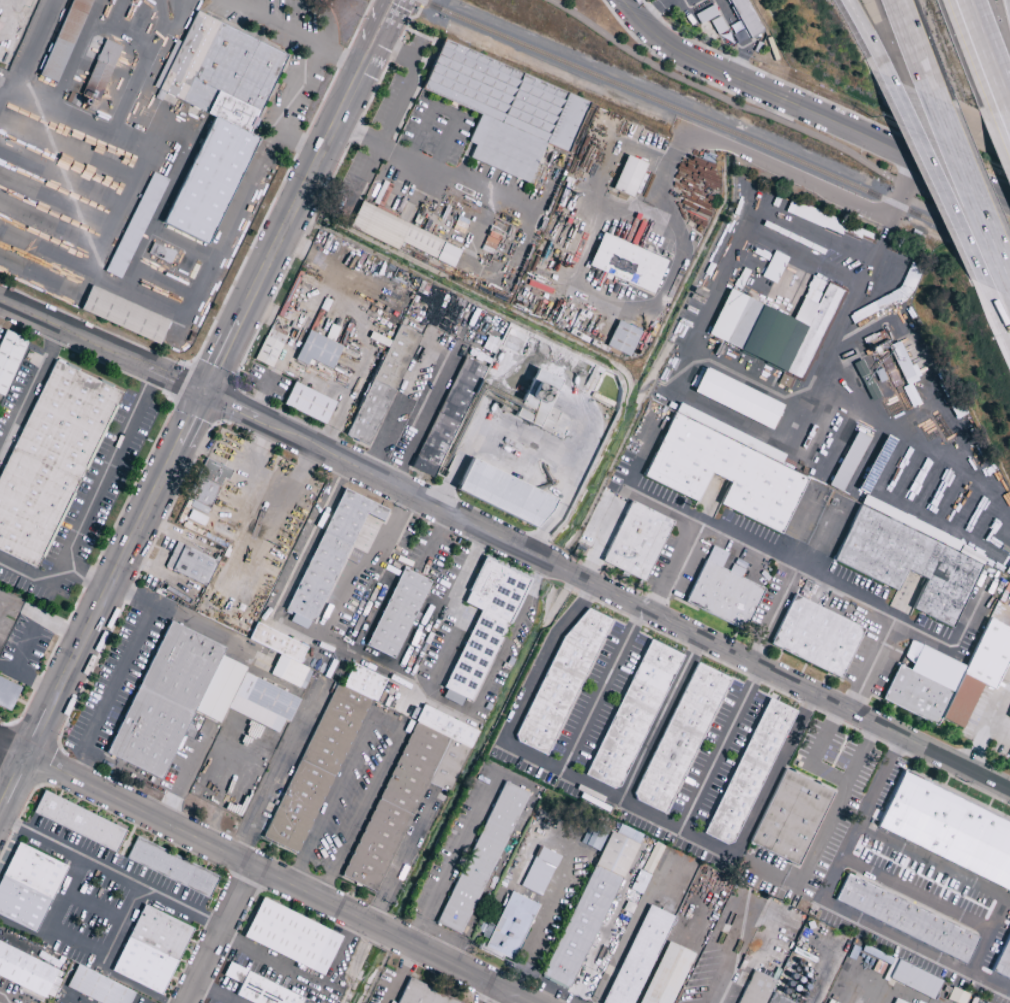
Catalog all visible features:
railway: (168, 9)
building: (744, 17)
building: (709, 19)
road: (862, 28)
road: (302, 35)
building: (64, 40)
road: (914, 48)
road: (338, 54)
road: (987, 57)
building: (99, 72)
road: (296, 85)
road: (820, 99)
road: (396, 107)
building: (504, 110)
road: (808, 110)
building: (215, 115)
road: (777, 120)
railway: (715, 125)
road: (298, 140)
road: (409, 163)
road: (670, 170)
road: (934, 172)
building: (627, 177)
road: (971, 187)
road: (817, 188)
building: (814, 218)
building: (135, 226)
road: (804, 226)
building: (392, 231)
building: (445, 255)
building: (626, 263)
road: (184, 309)
road: (998, 314)
building: (123, 315)
building: (776, 329)
building: (275, 334)
building: (622, 339)
road: (448, 344)
building: (317, 351)
building: (267, 352)
building: (10, 359)
road: (727, 366)
building: (904, 373)
building: (381, 386)
road: (28, 389)
building: (535, 398)
building: (736, 399)
building: (308, 403)
road: (198, 407)
building: (549, 415)
building: (447, 417)
road: (528, 434)
building: (51, 460)
building: (847, 462)
building: (875, 465)
building: (724, 469)
building: (207, 485)
building: (503, 494)
road: (90, 504)
road: (672, 511)
building: (636, 541)
road: (831, 541)
road: (601, 542)
road: (506, 546)
building: (328, 556)
building: (908, 559)
building: (189, 564)
road: (367, 570)
road: (846, 589)
building: (722, 592)
building: (1008, 608)
road: (455, 613)
building: (396, 614)
road: (276, 618)
road: (773, 619)
road: (634, 620)
building: (483, 626)
building: (815, 637)
building: (282, 656)
road: (496, 664)
road: (872, 666)
road: (119, 671)
building: (947, 678)
building: (561, 680)
building: (7, 693)
road: (529, 693)
building: (189, 699)
building: (632, 715)
building: (1008, 716)
road: (662, 722)
road: (386, 723)
road: (986, 726)
road: (998, 733)
building: (679, 739)
road: (722, 751)
building: (321, 758)
road: (277, 771)
building: (748, 773)
road: (830, 773)
road: (879, 782)
building: (402, 794)
road: (656, 816)
building: (791, 817)
building: (78, 822)
building: (949, 829)
road: (126, 842)
road: (924, 856)
road: (451, 857)
road: (401, 858)
building: (481, 858)
building: (171, 867)
road: (108, 868)
building: (539, 871)
road: (263, 873)
road: (776, 876)
building: (27, 887)
building: (590, 907)
road: (853, 915)
building: (906, 919)
road: (541, 921)
building: (510, 926)
road: (989, 935)
road: (221, 936)
building: (291, 937)
road: (75, 942)
building: (151, 950)
building: (638, 956)
building: (1003, 962)
building: (27, 972)
road: (401, 974)
building: (665, 975)
building: (913, 979)
road: (306, 982)
road: (720, 983)
building: (96, 988)
building: (258, 988)
building: (753, 988)
building: (420, 994)
road: (495, 996)
building: (957, 997)
building: (775, 999)
building: (893, 1001)

